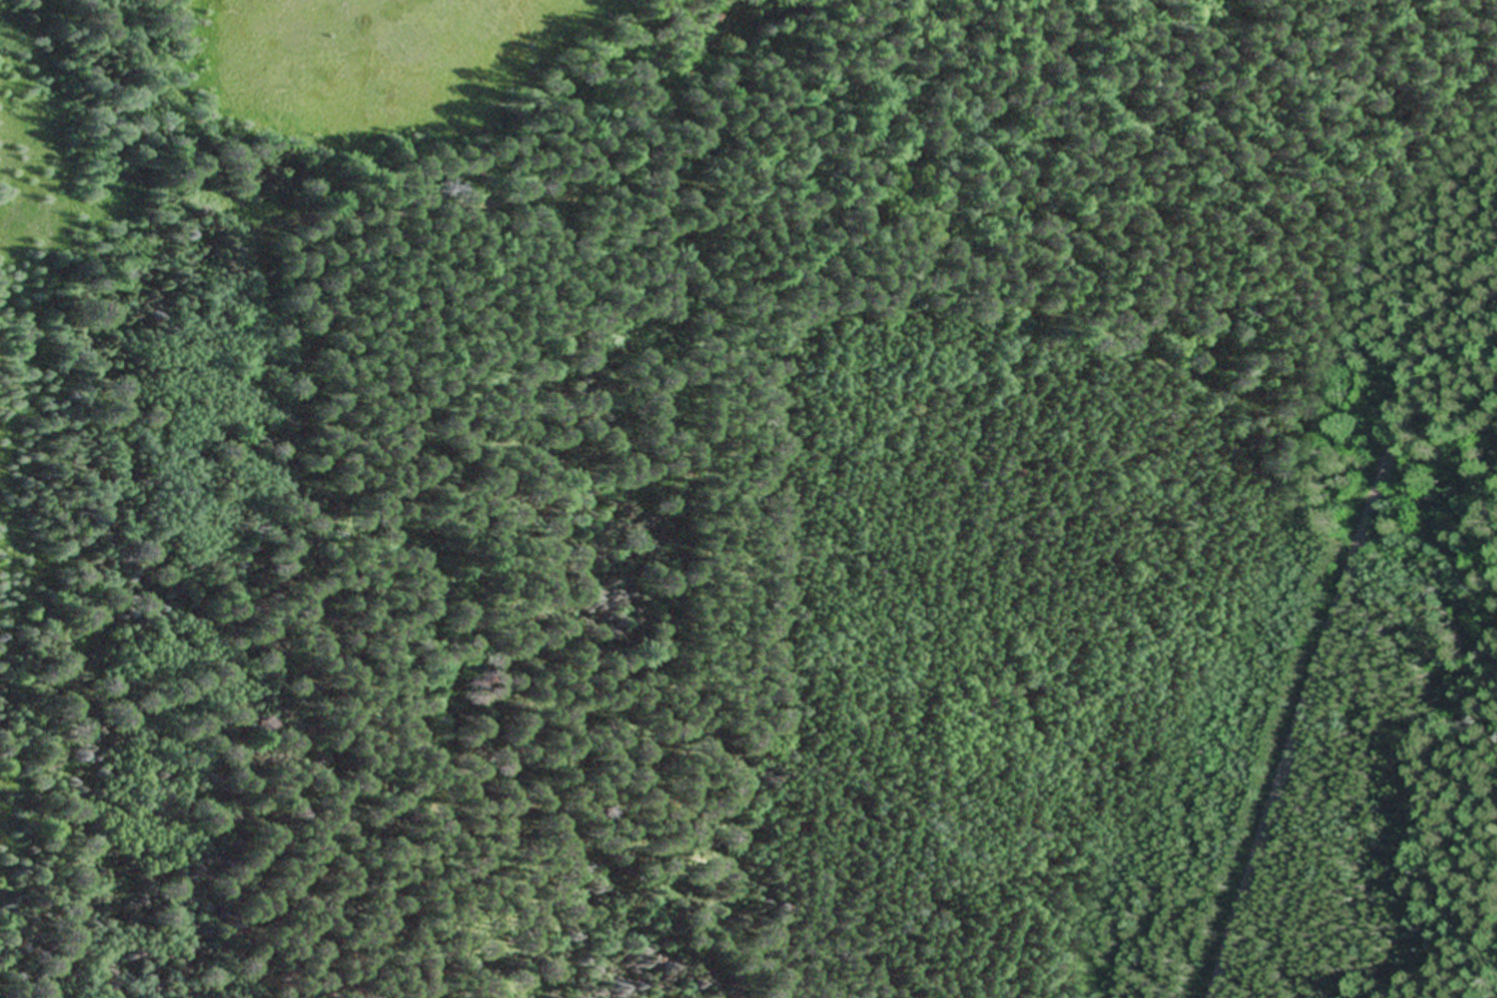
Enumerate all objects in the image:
road: (1332, 629)

